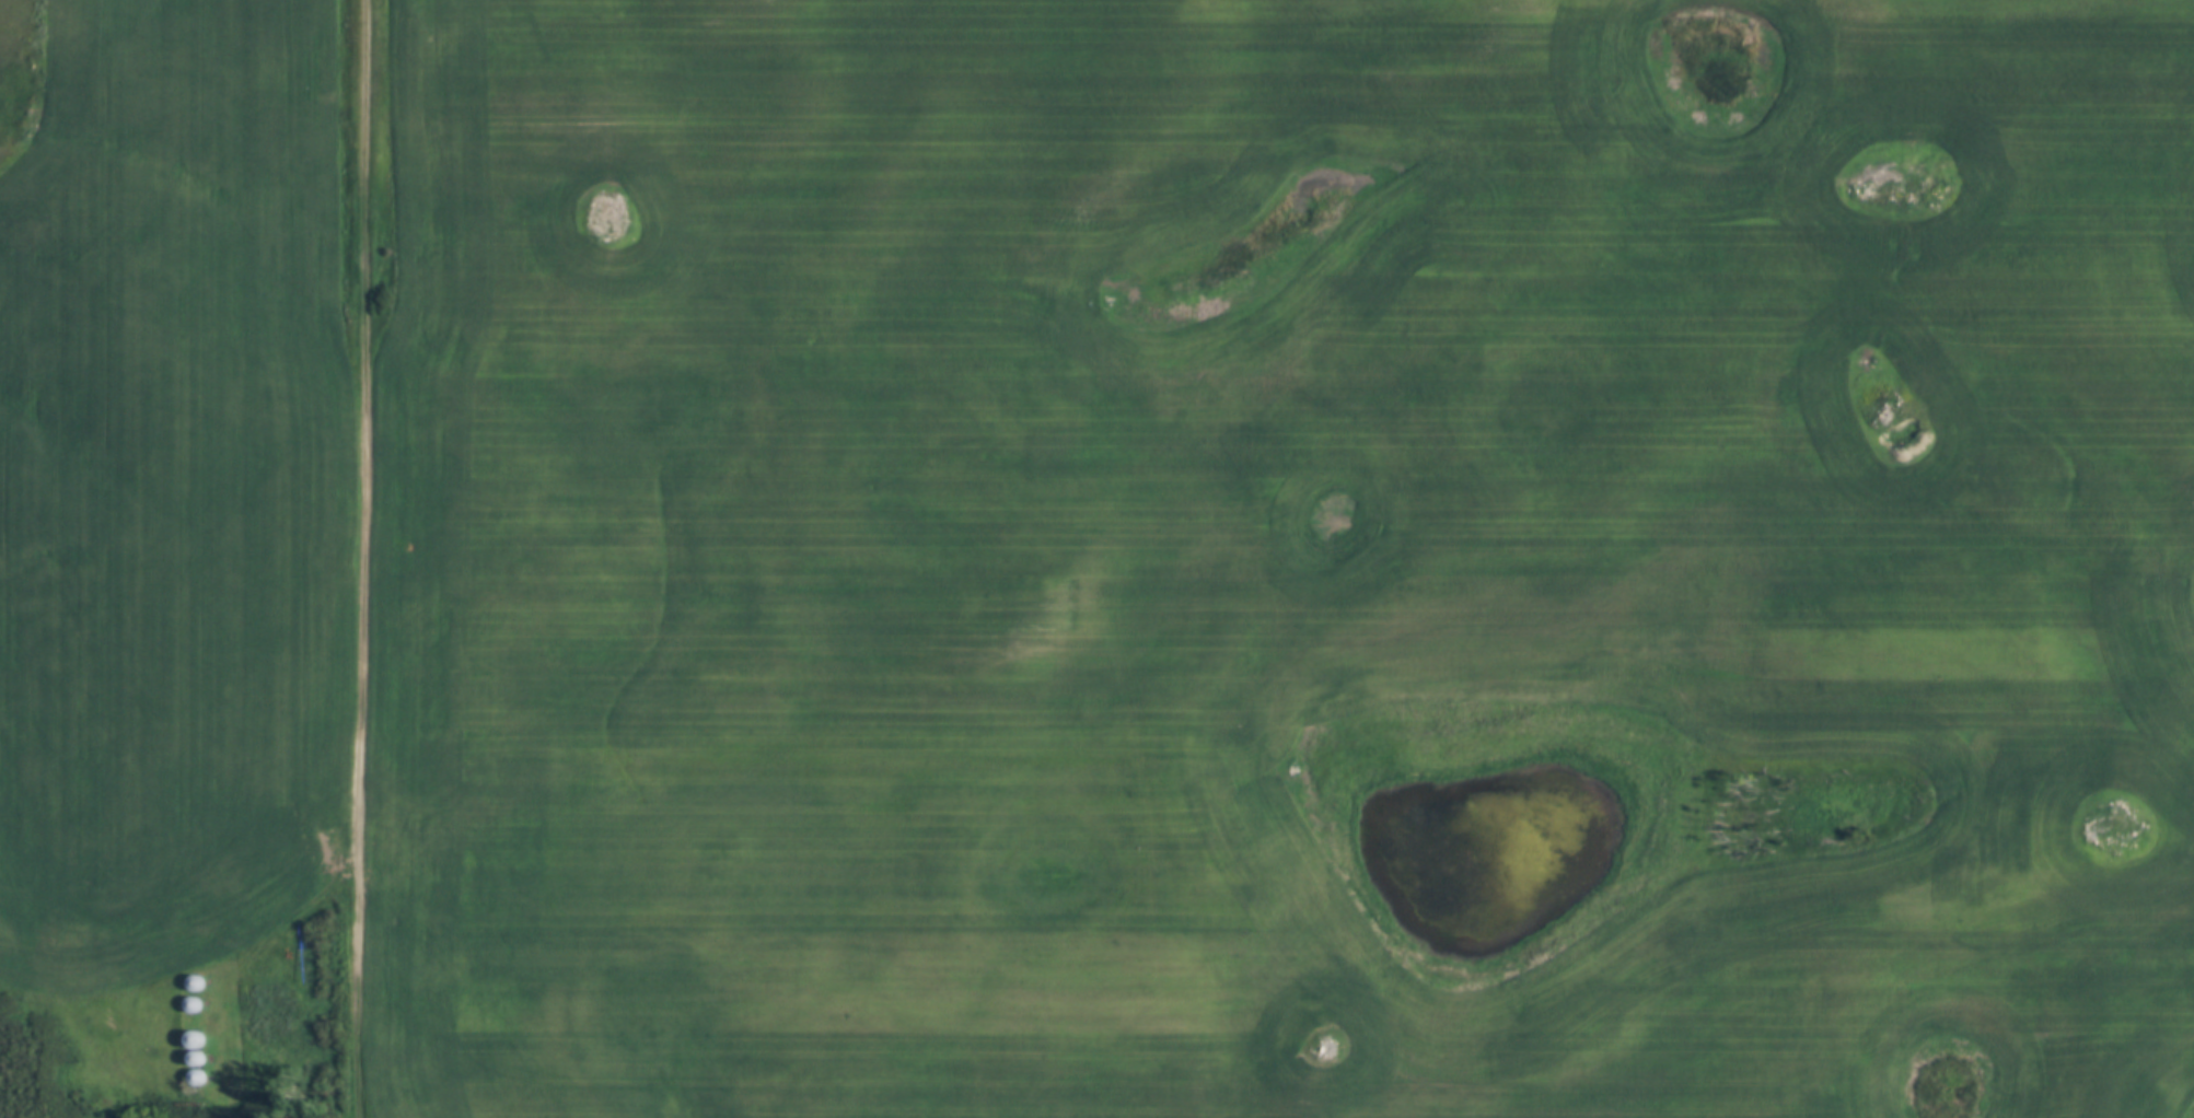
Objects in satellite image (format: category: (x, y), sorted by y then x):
road: (361, 560)
road: (355, 1086)

